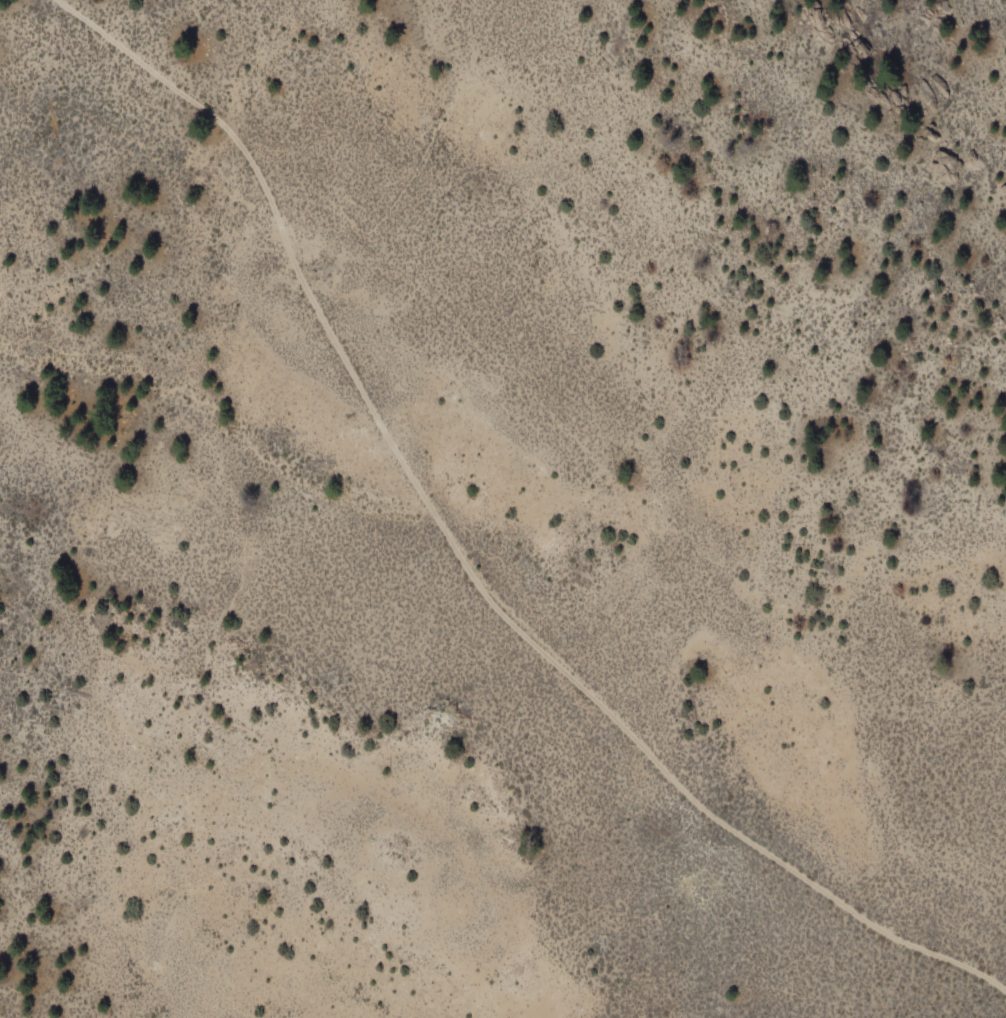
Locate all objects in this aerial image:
road: (459, 562)

